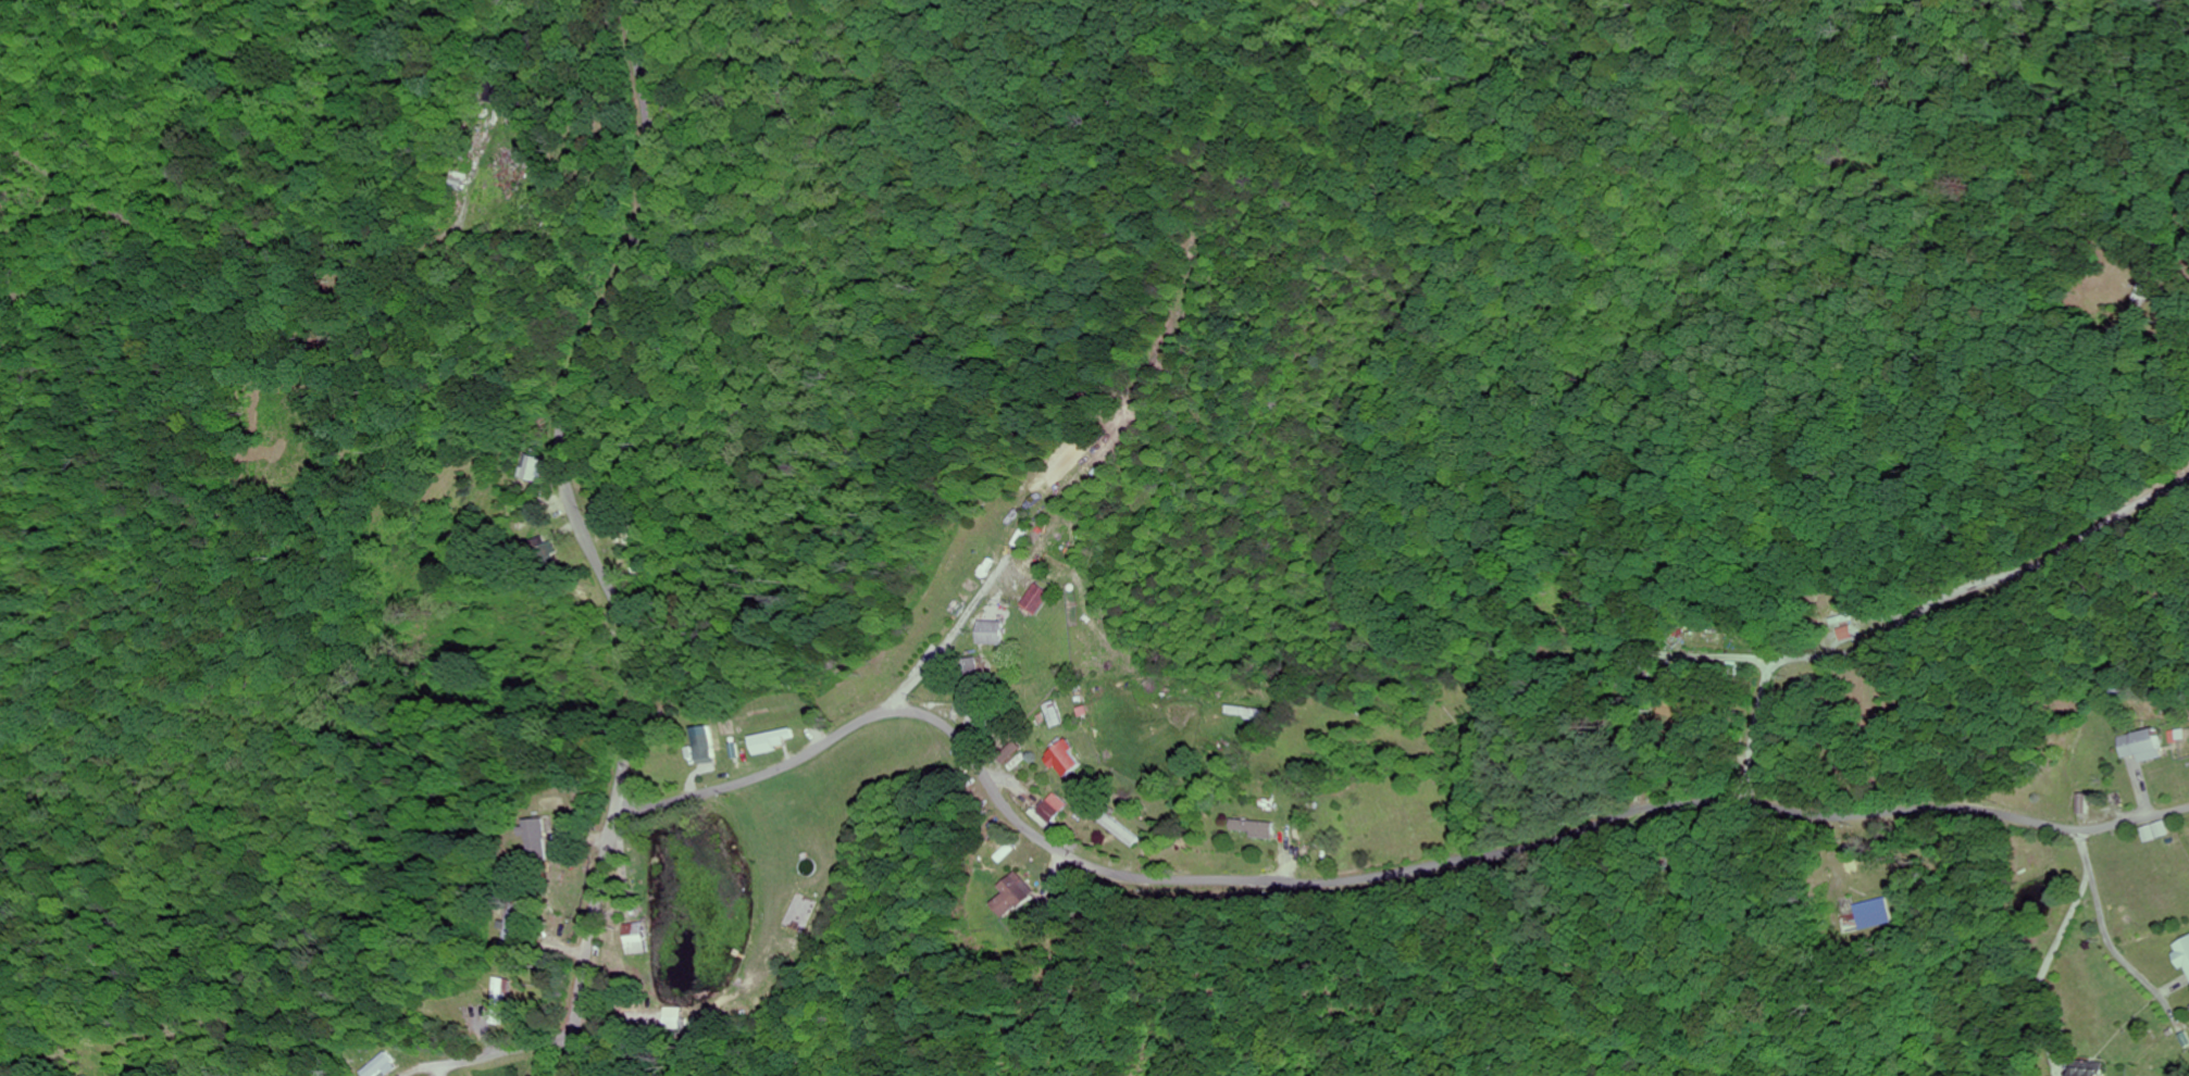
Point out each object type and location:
building: (538, 468)
road: (594, 535)
building: (1036, 600)
building: (1843, 623)
road: (1906, 623)
building: (992, 633)
building: (1848, 635)
building: (1249, 712)
building: (1056, 715)
building: (774, 741)
building: (707, 746)
building: (2140, 746)
building: (1067, 760)
building: (1055, 809)
building: (1256, 829)
building: (2154, 833)
building: (543, 838)
road: (1361, 873)
building: (1013, 897)
building: (1876, 914)
building: (519, 923)
road: (2103, 929)
building: (635, 939)
building: (2181, 953)
building: (500, 1002)
building: (382, 1066)
building: (2091, 1069)

